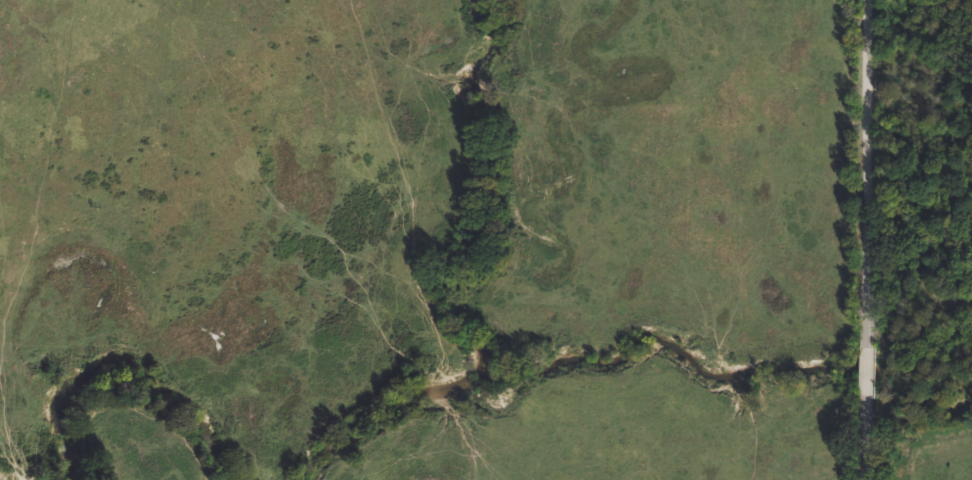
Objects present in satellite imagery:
road: (884, 240)

